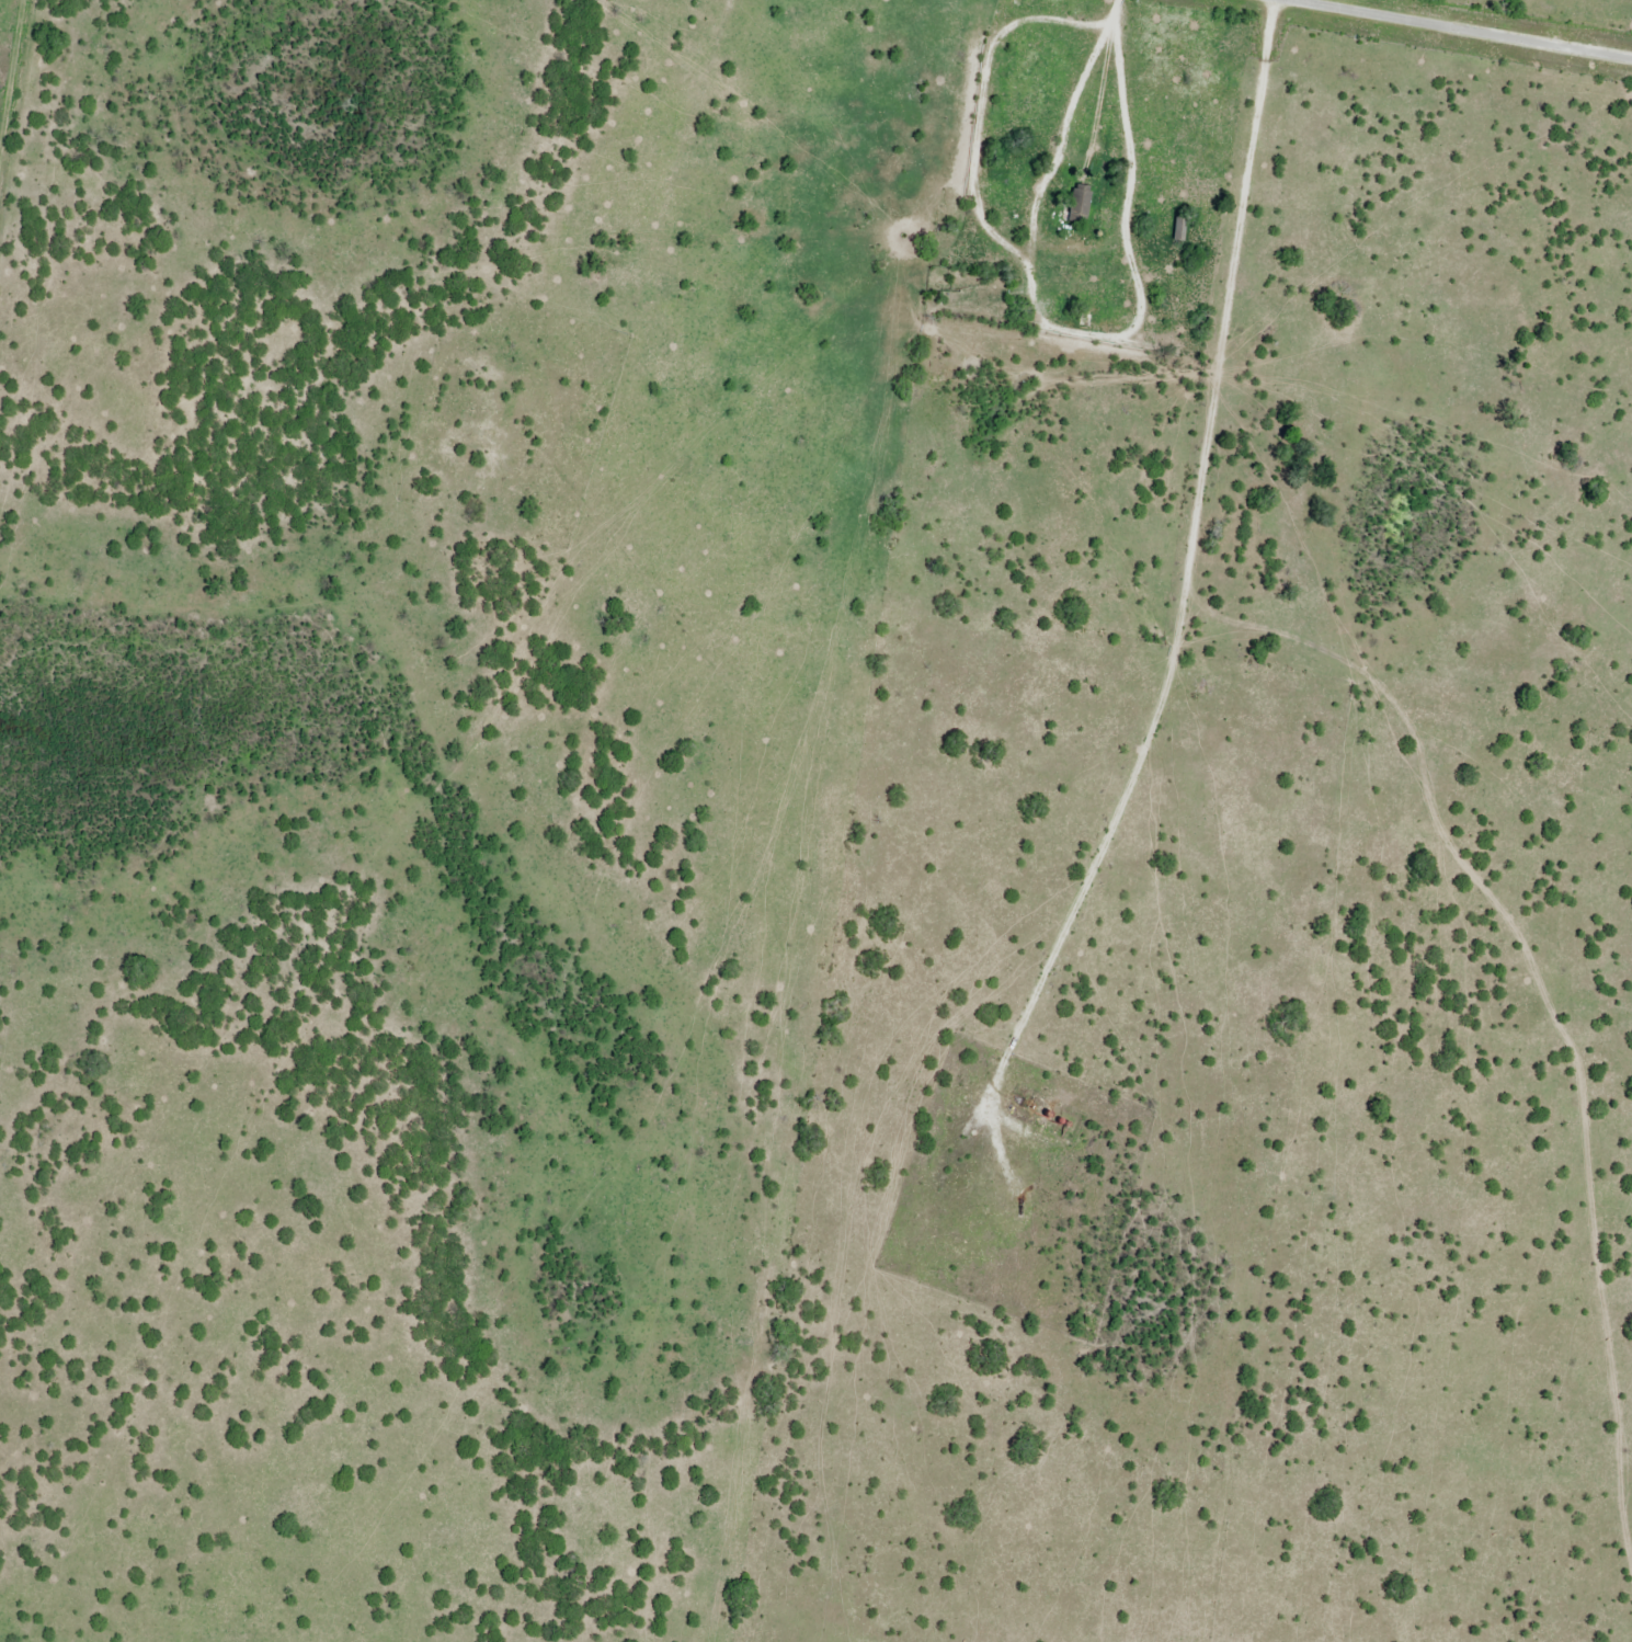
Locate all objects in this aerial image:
road: (1454, 30)
building: (1080, 204)
building: (1178, 227)

